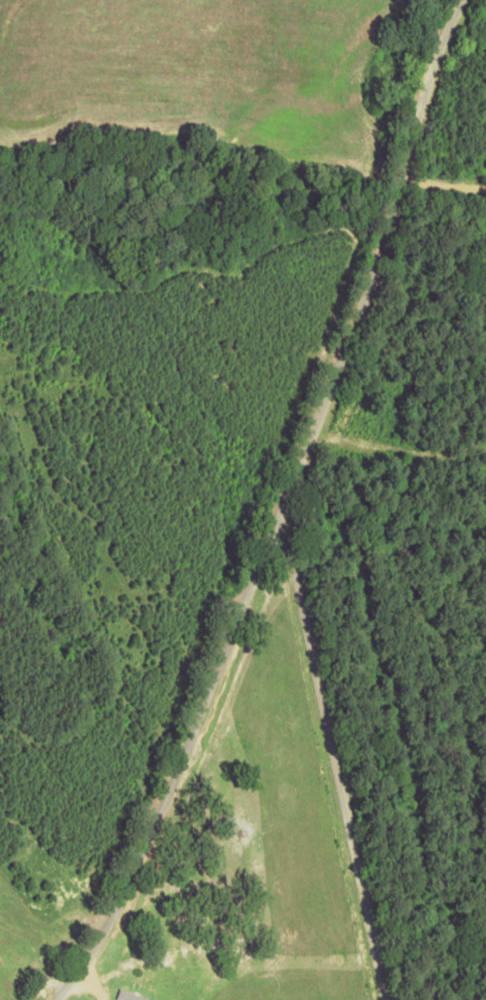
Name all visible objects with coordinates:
road: (281, 511)
road: (344, 754)
building: (131, 995)

